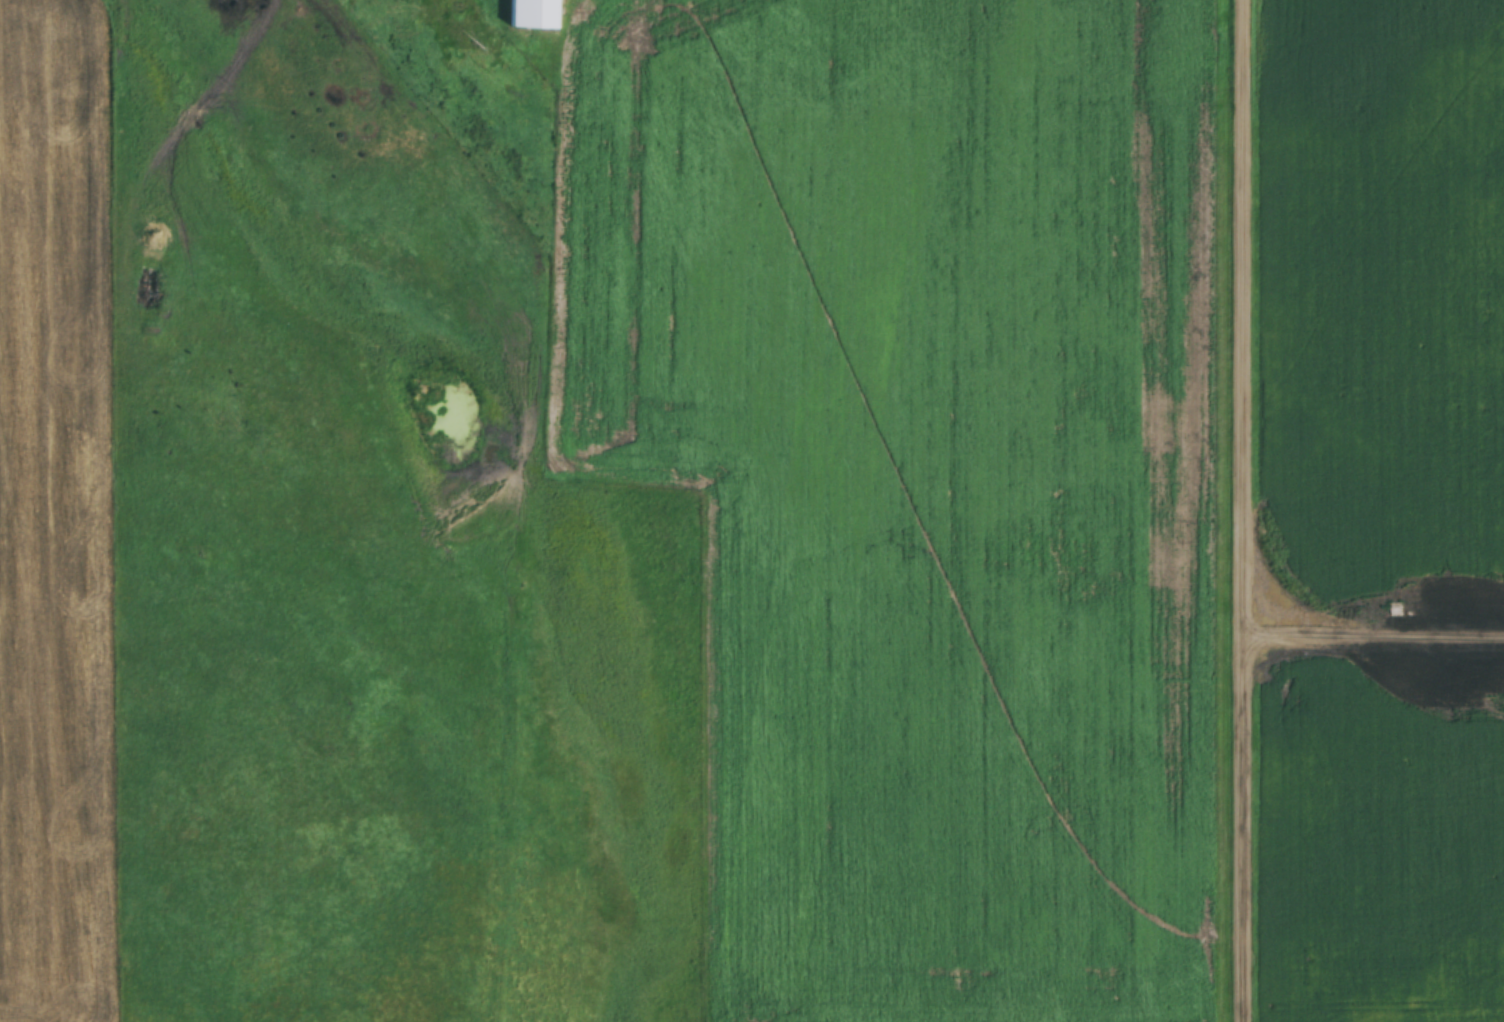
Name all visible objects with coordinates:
building: (519, 16)
road: (1250, 511)

